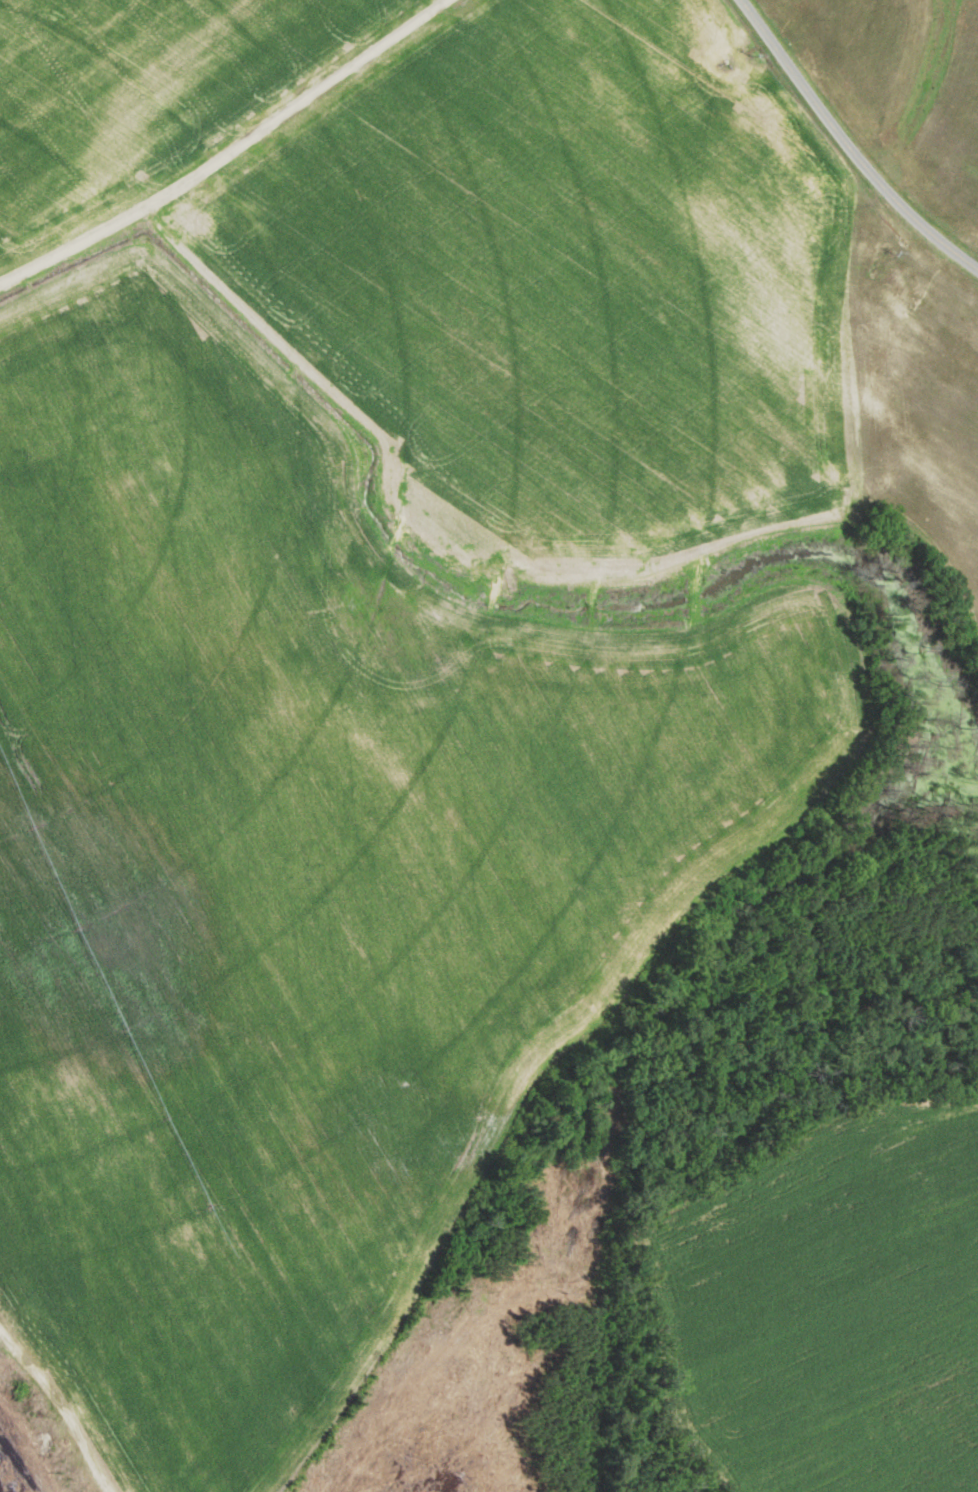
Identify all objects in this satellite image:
road: (847, 145)

